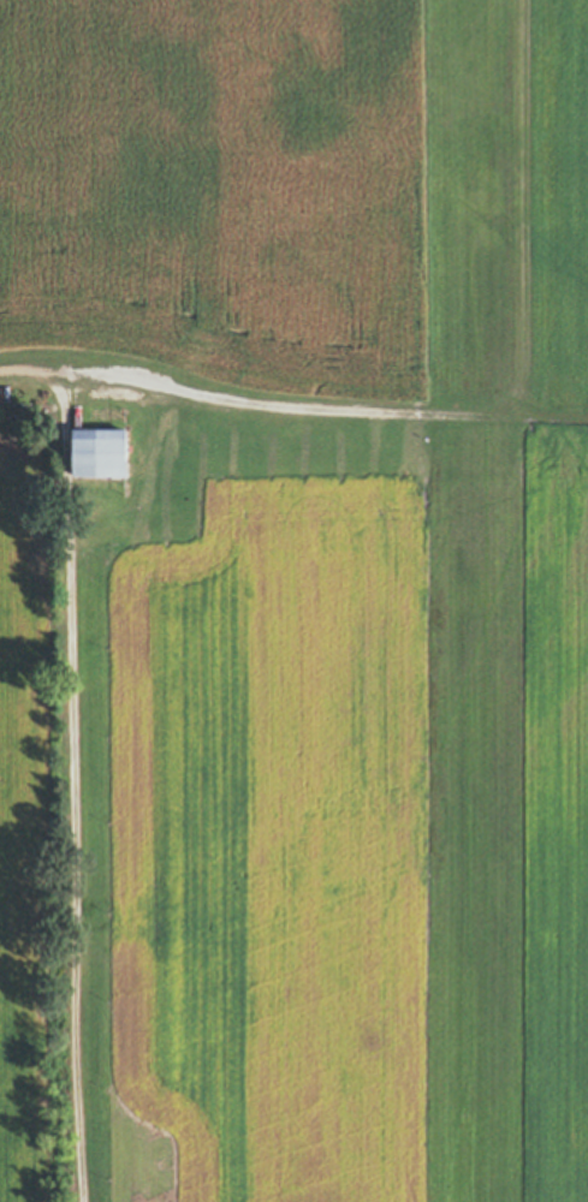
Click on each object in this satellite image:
building: (117, 393)
airport taxiway: (339, 435)
airport apron: (143, 450)
airport hangar: (101, 451)
building: (101, 451)
airport runway: (474, 601)
road: (65, 767)
airport: (475, 871)

